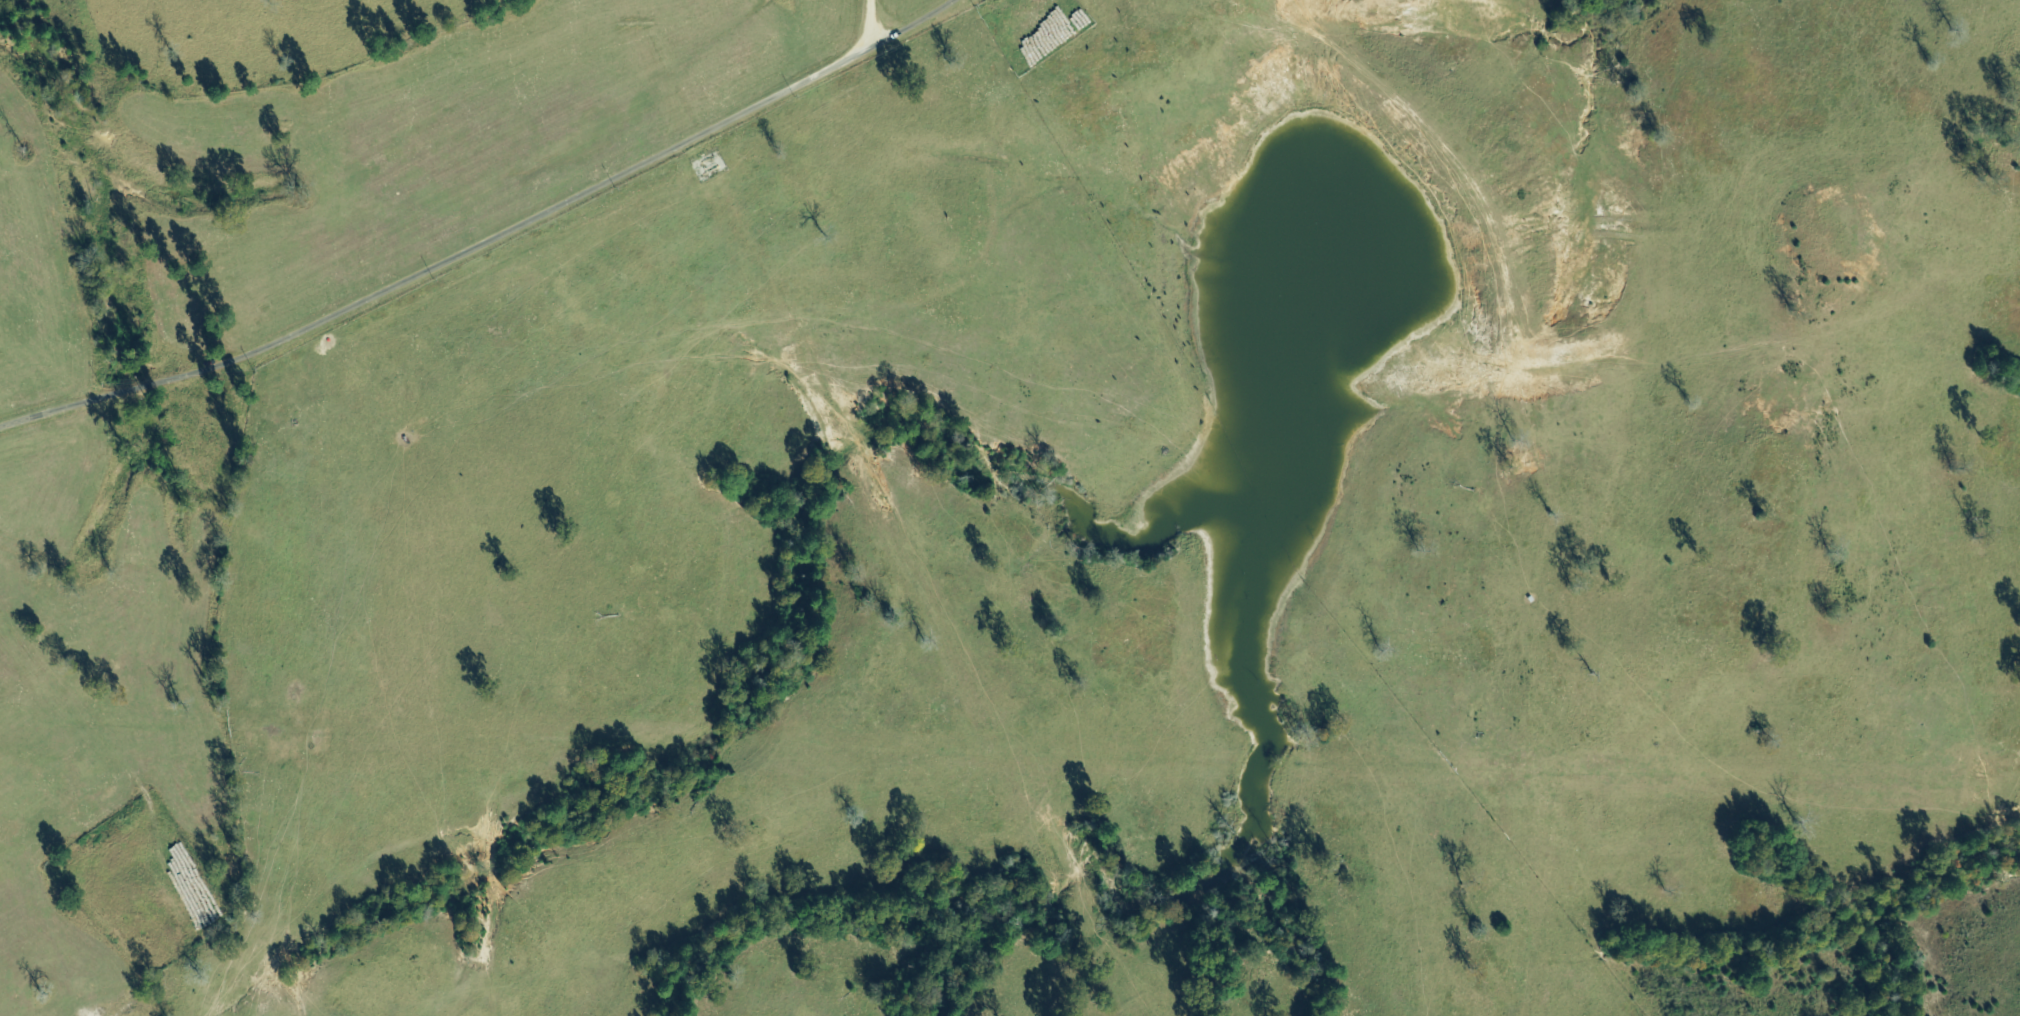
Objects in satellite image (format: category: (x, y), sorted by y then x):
road: (456, 313)

